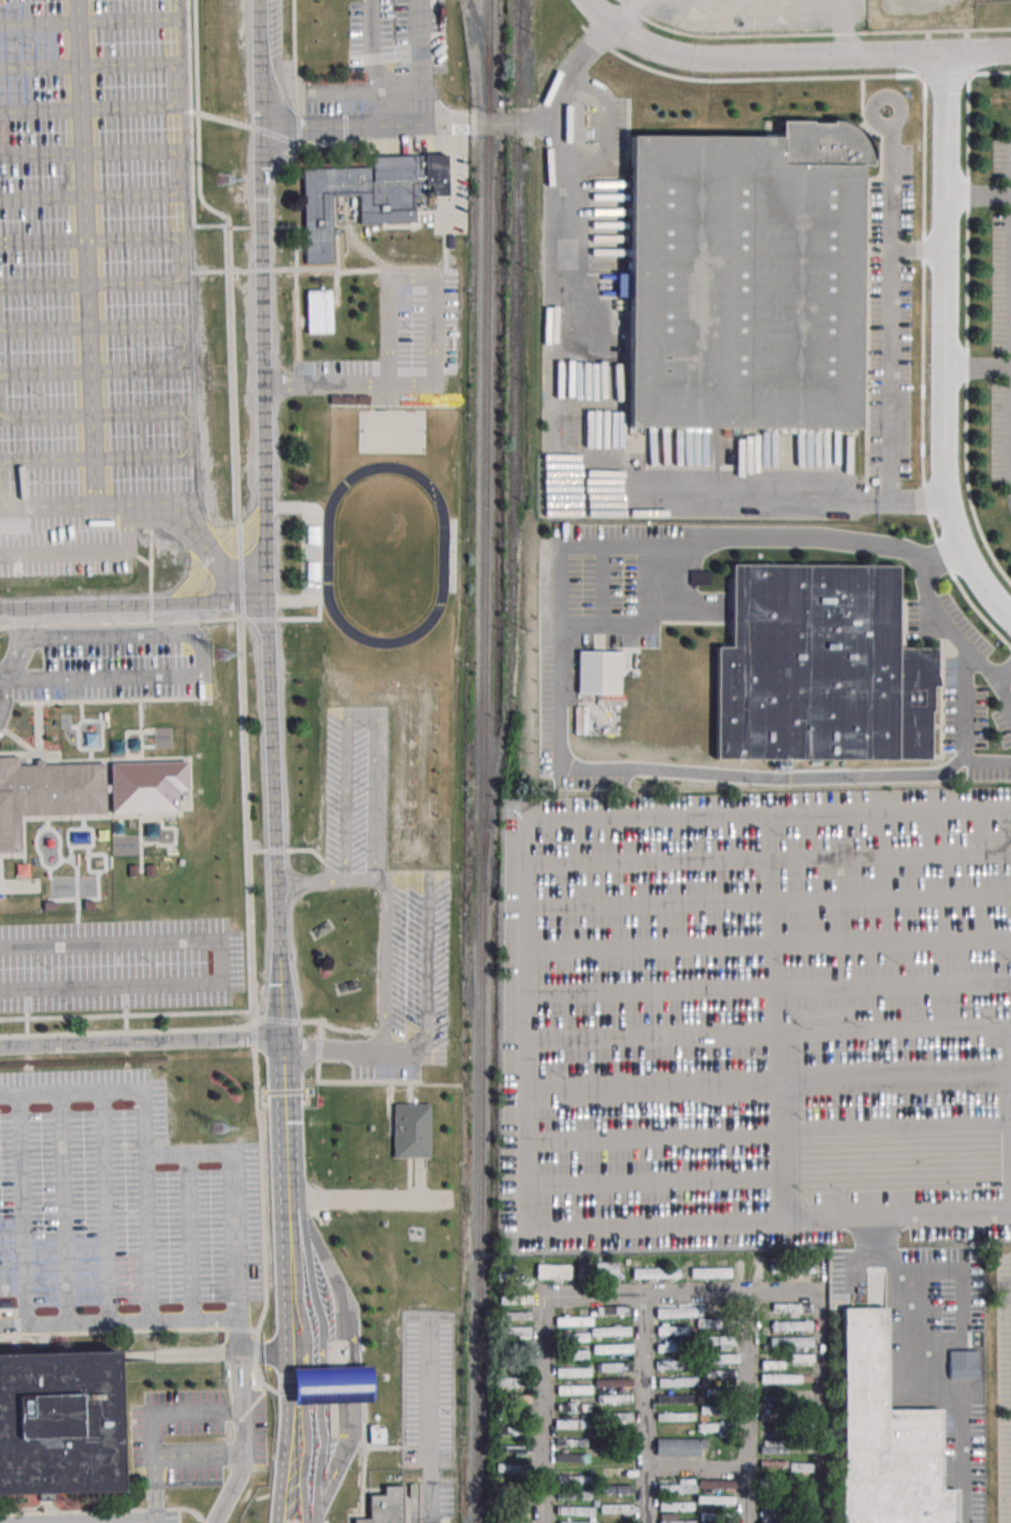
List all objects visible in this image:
building: (920, 6)
road: (600, 12)
road: (87, 21)
road: (810, 35)
railway: (520, 40)
railway: (484, 47)
road: (807, 56)
road: (573, 68)
road: (174, 86)
road: (352, 93)
road: (418, 117)
road: (408, 125)
road: (605, 130)
road: (177, 173)
power tower: (225, 179)
road: (978, 194)
building: (368, 195)
road: (555, 198)
road: (916, 249)
road: (86, 252)
road: (180, 260)
road: (412, 278)
building: (745, 280)
parking lot: (92, 283)
building: (319, 311)
building: (387, 311)
road: (966, 314)
road: (887, 335)
parking lot: (401, 340)
road: (945, 343)
road: (184, 347)
road: (977, 368)
road: (348, 384)
park: (392, 431)
railway: (514, 446)
road: (32, 460)
road: (784, 495)
road: (1, 508)
road: (265, 518)
road: (786, 537)
road: (88, 552)
track: (386, 554)
building: (699, 577)
road: (133, 605)
road: (584, 621)
road: (948, 635)
road: (22, 645)
power tower: (221, 655)
parking lot: (122, 664)
road: (203, 667)
building: (818, 667)
building: (598, 672)
road: (1003, 694)
road: (7, 695)
road: (363, 718)
road: (967, 728)
building: (163, 737)
railway: (484, 761)
road: (693, 777)
building: (82, 791)
road: (769, 857)
road: (769, 900)
road: (386, 911)
road: (769, 943)
road: (222, 962)
parking lot: (120, 965)
road: (768, 987)
parking lot: (757, 1018)
road: (526, 1024)
road: (768, 1033)
road: (427, 1035)
road: (142, 1041)
road: (825, 1080)
road: (651, 1085)
road: (286, 1117)
power tower: (218, 1129)
building: (410, 1130)
road: (145, 1134)
road: (652, 1138)
road: (895, 1150)
road: (653, 1180)
road: (234, 1191)
parking lot: (119, 1197)
road: (369, 1199)
road: (293, 1206)
road: (105, 1207)
road: (64, 1209)
road: (23, 1210)
road: (190, 1237)
building: (802, 1264)
building: (778, 1265)
building: (757, 1266)
building: (596, 1269)
building: (552, 1271)
building: (654, 1272)
building: (710, 1272)
building: (514, 1276)
road: (680, 1294)
building: (514, 1299)
building: (786, 1308)
building: (612, 1310)
building: (512, 1315)
building: (573, 1321)
road: (135, 1322)
building: (716, 1323)
building: (791, 1325)
building: (672, 1330)
building: (515, 1331)
building: (610, 1331)
building: (574, 1337)
building: (718, 1341)
building: (790, 1342)
building: (671, 1347)
building: (611, 1349)
road: (262, 1351)
building: (574, 1354)
building: (719, 1358)
building: (801, 1358)
road: (285, 1360)
road: (352, 1363)
building: (674, 1364)
building: (772, 1364)
building: (962, 1364)
road: (323, 1366)
building: (613, 1367)
road: (306, 1368)
building: (572, 1372)
building: (717, 1377)
building: (780, 1378)
building: (512, 1381)
road: (642, 1381)
building: (677, 1381)
road: (746, 1381)
building: (613, 1382)
building: (330, 1385)
building: (573, 1389)
parking lot: (428, 1393)
building: (614, 1398)
building: (674, 1398)
building: (516, 1399)
building: (573, 1407)
road: (821, 1407)
road: (539, 1410)
building: (707, 1410)
building: (515, 1416)
building: (619, 1417)
building: (673, 1417)
road: (429, 1419)
road: (153, 1423)
building: (573, 1423)
building: (59, 1424)
building: (717, 1428)
building: (513, 1431)
building: (376, 1434)
building: (884, 1437)
parking lot: (146, 1438)
road: (243, 1440)
building: (570, 1442)
building: (774, 1446)
building: (680, 1447)
building: (512, 1450)
road: (199, 1455)
building: (570, 1457)
building: (772, 1464)
building: (799, 1466)
building: (511, 1468)
road: (694, 1468)
building: (581, 1480)
building: (714, 1484)
building: (677, 1486)
building: (615, 1489)
building: (581, 1494)
road: (744, 1495)
road: (645, 1496)
building: (715, 1500)
building: (411, 1503)
parking lot: (431, 1503)
building: (675, 1505)
building: (516, 1506)
building: (805, 1506)
building: (385, 1507)
building: (616, 1509)
building: (575, 1510)
building: (769, 1513)
building: (708, 1517)
parking lot: (96, 1518)
building: (675, 1518)
building: (727, 1520)
road: (115, 1521)
road: (316, 1521)
building: (577, 1522)

